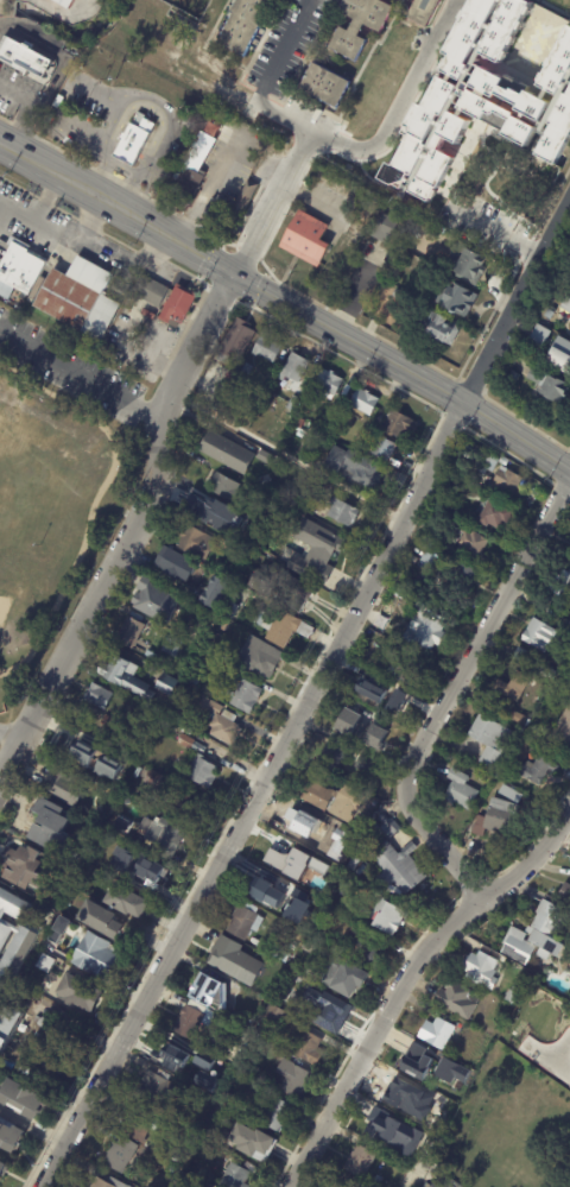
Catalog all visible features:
building: (63, 4)
building: (423, 12)
building: (242, 25)
building: (357, 25)
building: (484, 33)
road: (279, 51)
building: (23, 56)
building: (558, 65)
building: (323, 86)
road: (153, 100)
road: (21, 114)
building: (457, 128)
building: (557, 132)
building: (133, 137)
building: (211, 145)
road: (342, 149)
building: (346, 188)
building: (185, 189)
road: (205, 190)
road: (44, 196)
building: (228, 207)
road: (4, 209)
building: (382, 226)
road: (57, 228)
road: (501, 231)
building: (431, 233)
building: (306, 239)
road: (153, 251)
building: (469, 267)
building: (62, 292)
building: (148, 292)
building: (398, 295)
building: (455, 299)
road: (286, 302)
road: (519, 304)
building: (176, 307)
building: (564, 309)
building: (550, 314)
building: (438, 329)
building: (538, 336)
building: (235, 341)
building: (265, 349)
building: (559, 356)
building: (291, 368)
parking lot: (69, 370)
building: (245, 370)
road: (78, 371)
building: (512, 375)
building: (325, 384)
building: (547, 385)
building: (234, 394)
building: (256, 394)
building: (362, 403)
building: (291, 405)
building: (297, 423)
building: (397, 425)
park: (26, 438)
building: (381, 449)
road: (156, 450)
building: (224, 453)
road: (286, 454)
building: (264, 457)
building: (488, 462)
building: (353, 469)
park: (62, 484)
building: (506, 485)
building: (321, 488)
building: (223, 490)
building: (280, 494)
road: (94, 501)
building: (313, 511)
building: (341, 513)
building: (493, 516)
building: (442, 537)
building: (195, 543)
building: (473, 549)
building: (569, 550)
building: (235, 551)
building: (313, 553)
building: (429, 556)
building: (569, 556)
building: (411, 561)
building: (173, 566)
building: (406, 569)
building: (461, 577)
building: (560, 586)
building: (209, 595)
building: (298, 595)
building: (400, 595)
building: (153, 602)
park: (4, 604)
building: (230, 611)
building: (569, 626)
building: (281, 629)
building: (423, 631)
building: (128, 633)
building: (537, 636)
building: (568, 637)
building: (216, 642)
building: (170, 645)
building: (517, 656)
building: (356, 657)
building: (255, 658)
building: (403, 669)
building: (347, 675)
building: (546, 675)
building: (121, 678)
building: (365, 678)
building: (192, 681)
building: (164, 686)
road: (456, 688)
building: (511, 688)
building: (243, 696)
building: (556, 696)
building: (96, 697)
building: (381, 702)
building: (518, 719)
building: (217, 722)
building: (108, 725)
building: (354, 730)
building: (532, 730)
building: (563, 730)
building: (375, 735)
road: (7, 739)
building: (489, 740)
building: (183, 743)
building: (69, 749)
building: (335, 754)
building: (365, 764)
building: (536, 771)
building: (199, 772)
building: (145, 777)
building: (482, 779)
building: (65, 789)
building: (458, 791)
road: (254, 794)
building: (508, 795)
building: (329, 800)
building: (123, 802)
building: (368, 804)
building: (180, 806)
building: (102, 819)
building: (381, 819)
building: (494, 819)
building: (360, 821)
building: (298, 825)
building: (46, 827)
building: (379, 832)
building: (161, 839)
building: (323, 847)
building: (361, 850)
building: (125, 859)
building: (275, 859)
building: (351, 864)
building: (23, 866)
building: (395, 871)
building: (145, 876)
building: (264, 894)
building: (564, 894)
building: (303, 901)
building: (127, 903)
building: (325, 915)
building: (387, 917)
building: (99, 920)
building: (243, 924)
building: (11, 929)
building: (57, 929)
building: (298, 936)
building: (533, 936)
building: (308, 946)
building: (274, 947)
building: (361, 948)
building: (94, 959)
building: (234, 962)
building: (40, 964)
building: (477, 968)
road: (401, 974)
building: (522, 976)
building: (342, 978)
building: (290, 979)
building: (207, 992)
building: (511, 995)
building: (75, 996)
building: (456, 998)
building: (327, 1014)
building: (191, 1019)
building: (277, 1019)
building: (246, 1023)
building: (40, 1024)
building: (6, 1030)
building: (59, 1030)
building: (260, 1030)
building: (435, 1034)
building: (237, 1035)
building: (306, 1048)
road: (560, 1050)
building: (220, 1052)
building: (14, 1055)
building: (47, 1056)
building: (416, 1059)
road: (547, 1059)
building: (184, 1060)
building: (450, 1071)
building: (292, 1081)
building: (153, 1090)
building: (210, 1091)
building: (224, 1097)
building: (20, 1098)
building: (400, 1098)
building: (275, 1115)
building: (179, 1116)
building: (209, 1116)
building: (443, 1116)
building: (135, 1122)
building: (406, 1125)
building: (378, 1129)
building: (418, 1132)
building: (9, 1136)
building: (175, 1148)
building: (255, 1150)
building: (120, 1154)
building: (414, 1160)
building: (357, 1162)
building: (2, 1168)
building: (233, 1176)
building: (182, 1180)
building: (376, 1181)
building: (103, 1183)
building: (346, 1186)
building: (360, 1186)

